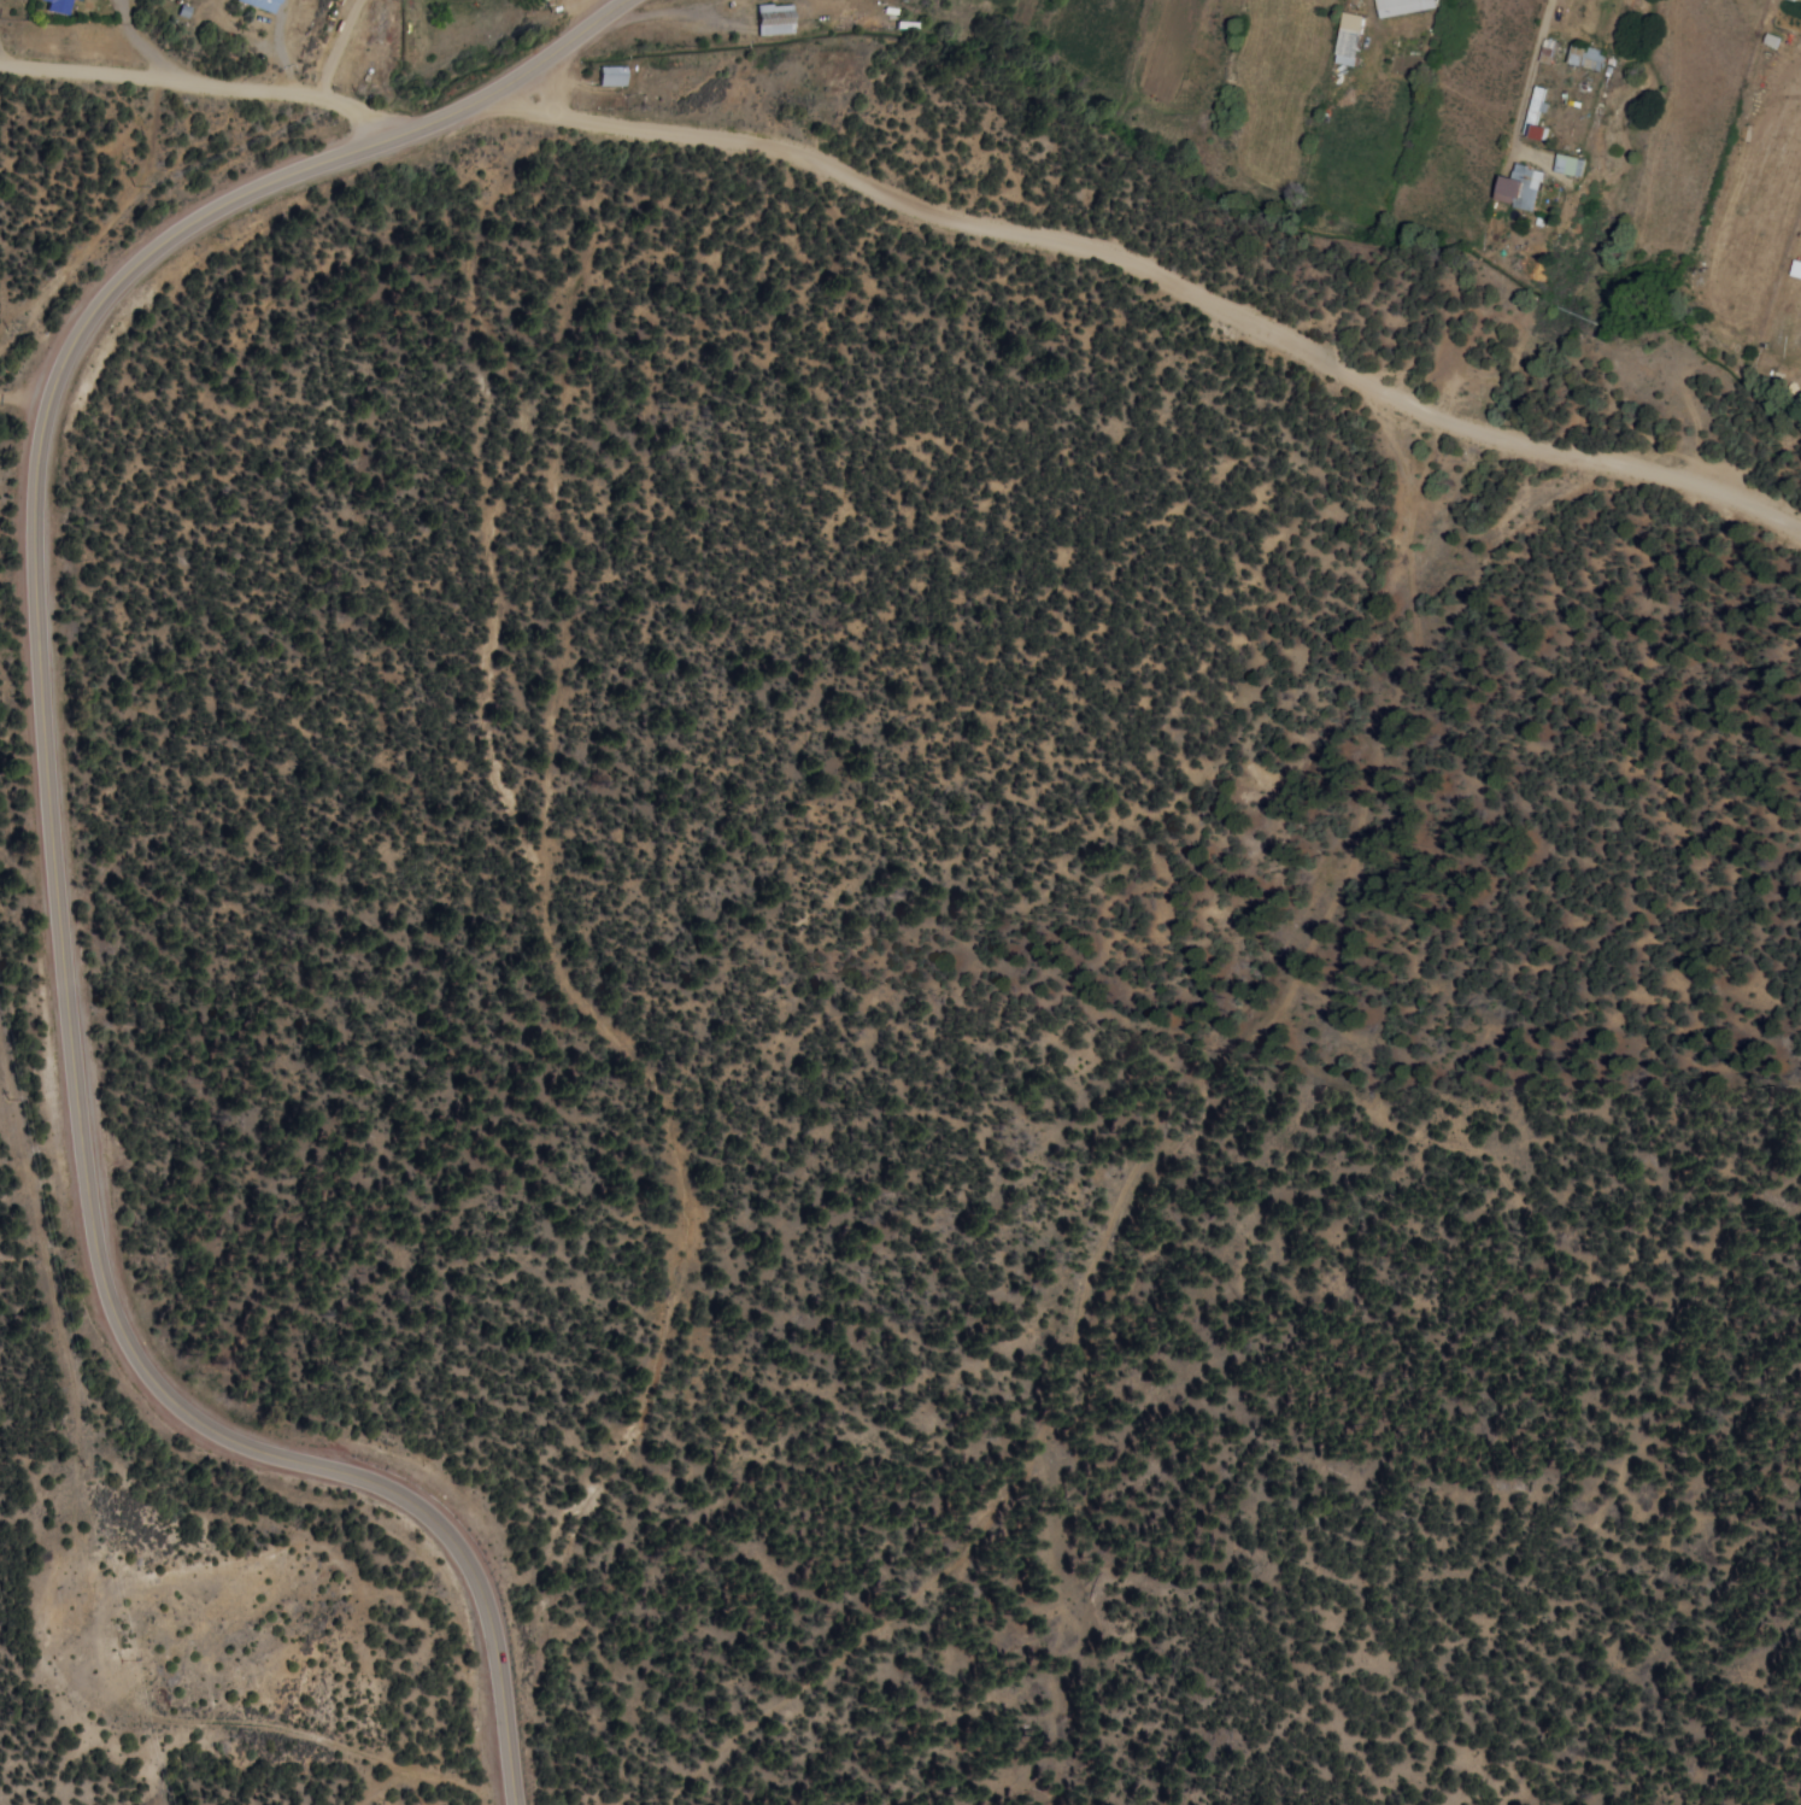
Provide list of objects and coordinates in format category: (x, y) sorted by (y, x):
building: (540, 0)
building: (1796, 0)
building: (263, 4)
building: (58, 6)
building: (1404, 6)
road: (671, 13)
building: (1350, 37)
building: (1773, 39)
road: (140, 45)
road: (334, 46)
road: (277, 47)
building: (1548, 49)
building: (1588, 57)
road: (2, 59)
building: (612, 75)
road: (199, 84)
road: (1524, 89)
building: (1537, 116)
building: (1571, 164)
building: (1523, 186)
building: (1796, 268)
road: (1157, 275)
road: (49, 845)
quarry: (193, 1648)

